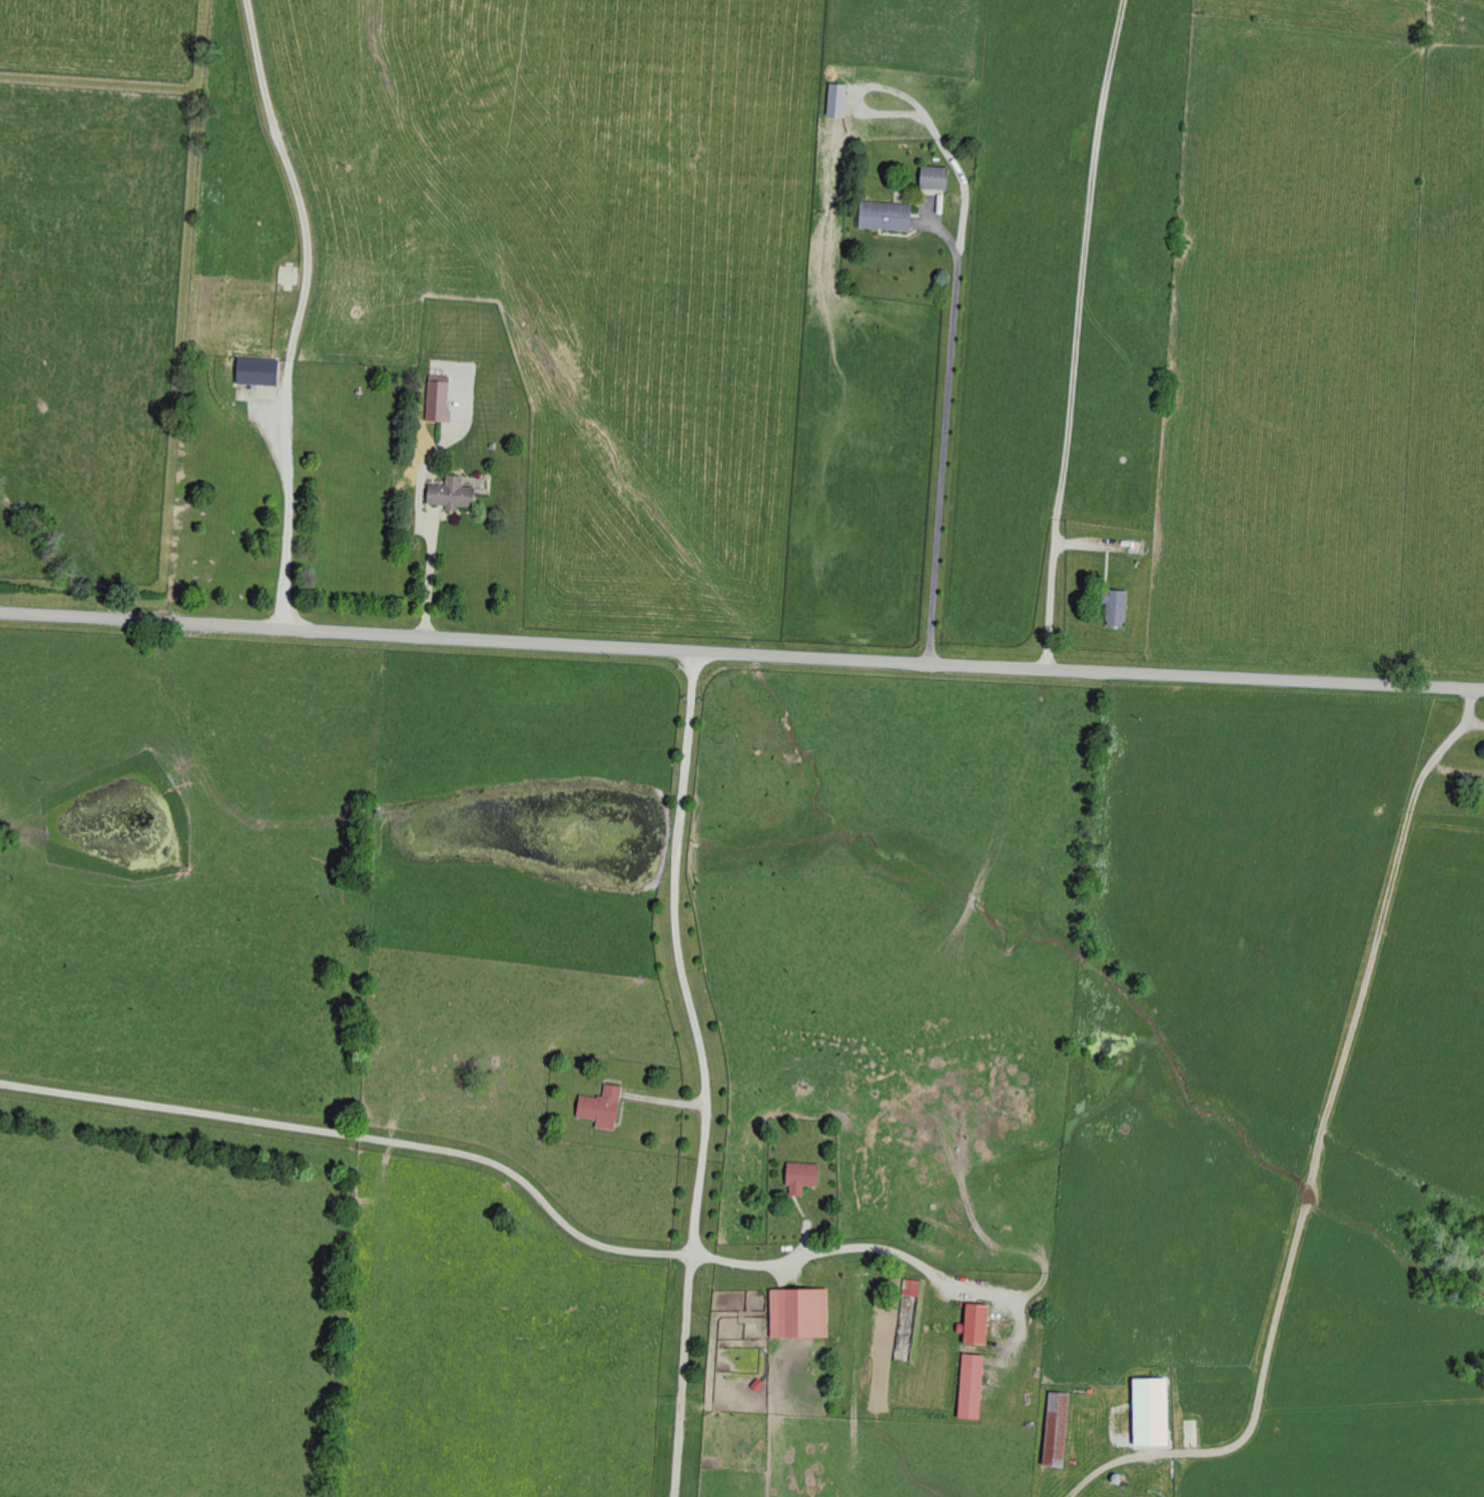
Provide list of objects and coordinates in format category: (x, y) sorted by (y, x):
building: (835, 101)
building: (932, 178)
building: (883, 217)
road: (1083, 271)
road: (301, 310)
building: (255, 372)
building: (436, 401)
road: (945, 433)
building: (449, 495)
road: (1052, 583)
road: (429, 586)
building: (1113, 607)
road: (741, 653)
road: (694, 1018)
building: (599, 1107)
road: (1319, 1142)
road: (486, 1172)
building: (800, 1177)
building: (910, 1288)
building: (797, 1313)
building: (973, 1325)
building: (969, 1387)
building: (1149, 1412)
building: (1054, 1430)

